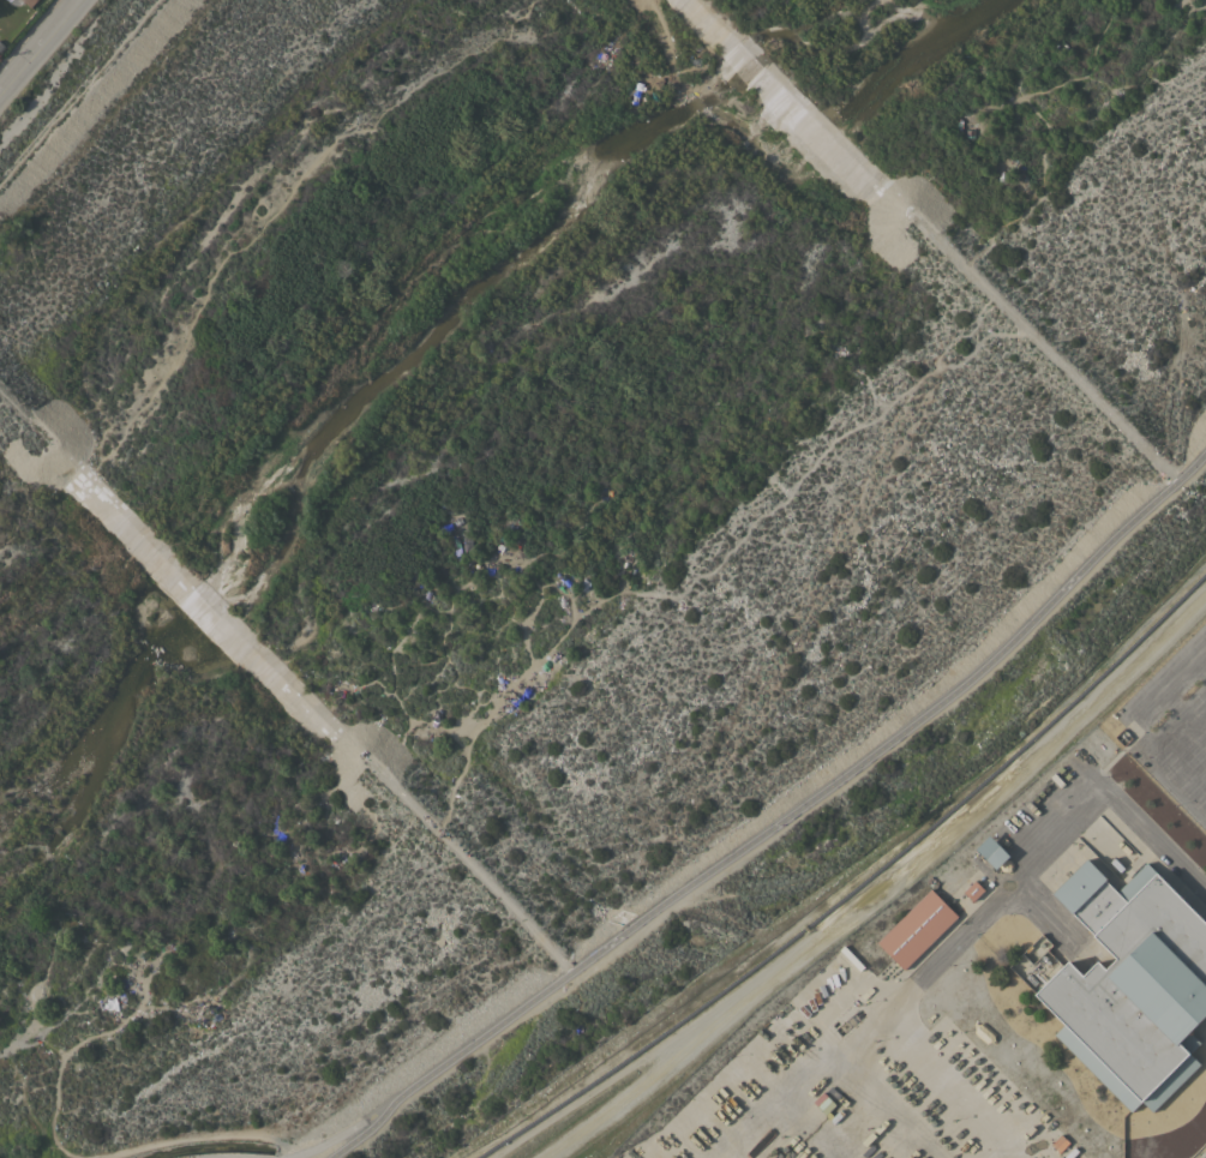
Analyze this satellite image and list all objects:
building: (8, 0)
building: (30, 2)
road: (40, 46)
road: (78, 91)
river: (426, 307)
road: (1200, 662)
road: (1182, 714)
road: (1132, 719)
parking lot: (1174, 724)
road: (779, 818)
building: (992, 851)
building: (973, 890)
building: (917, 929)
road: (966, 929)
building: (1033, 964)
building: (1132, 984)
building: (1171, 1132)
parking lot: (1204, 1156)

